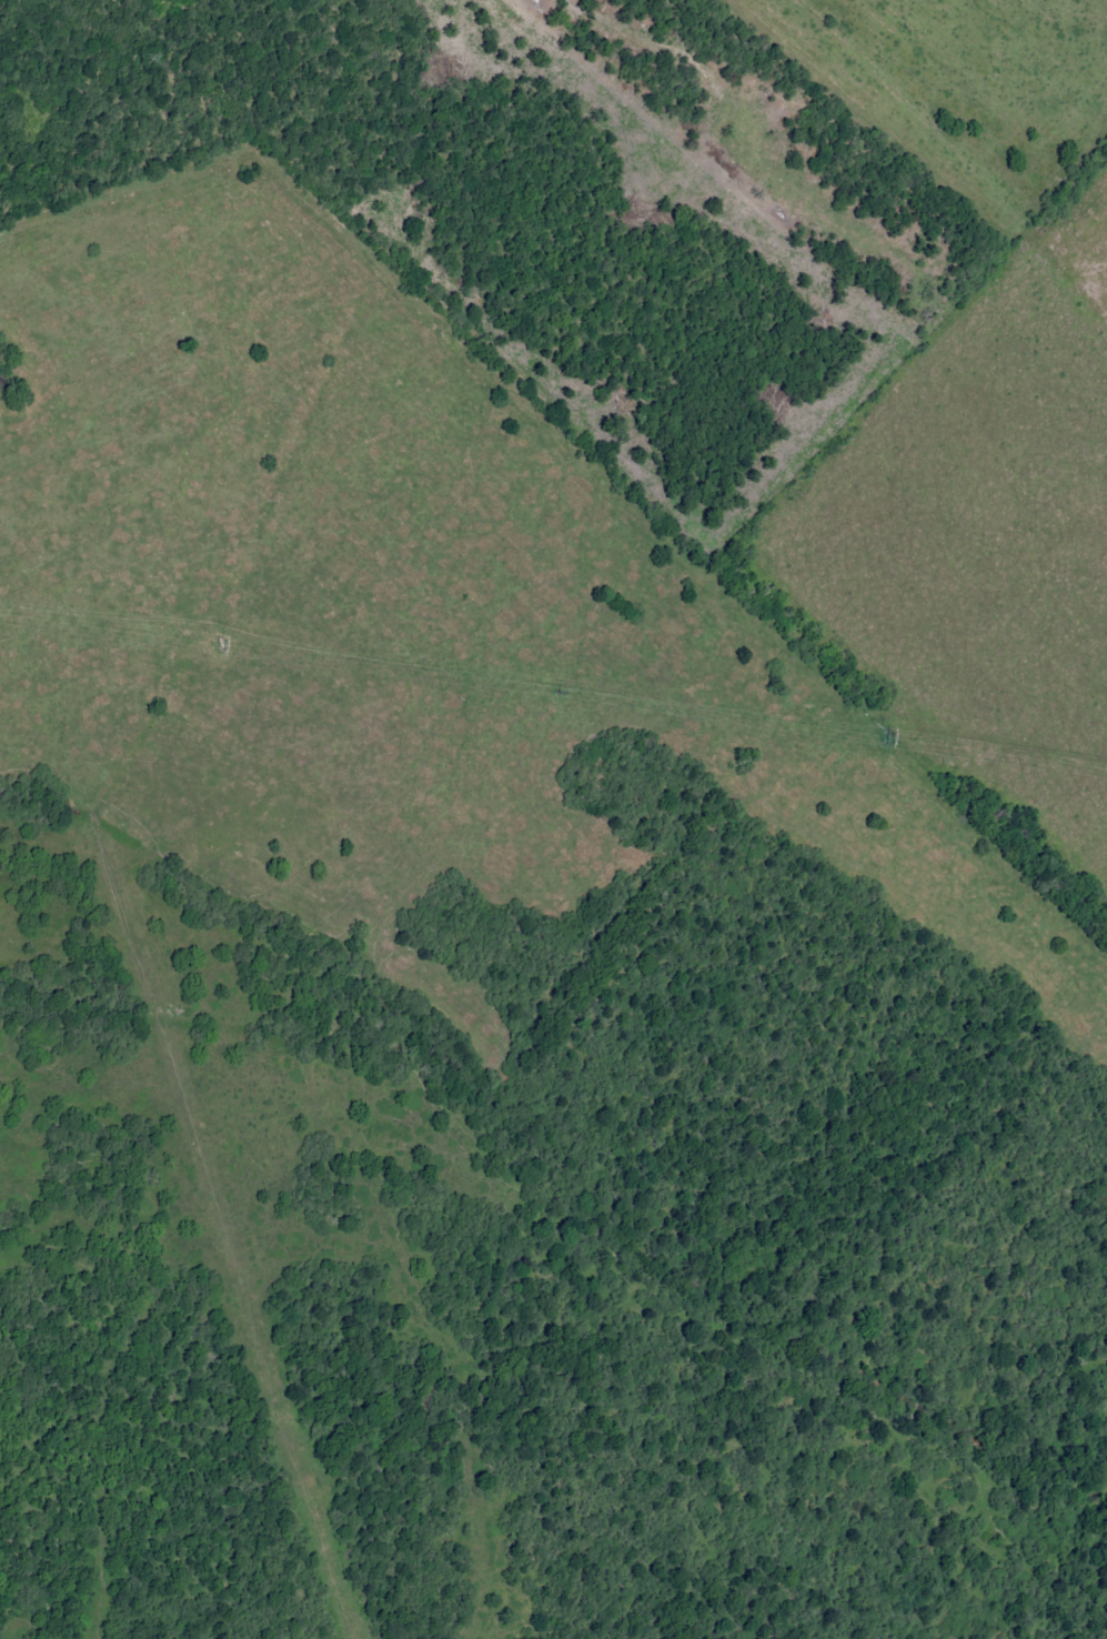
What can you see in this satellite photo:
power tower: (211, 642)
power tower: (551, 691)
power tower: (873, 741)

